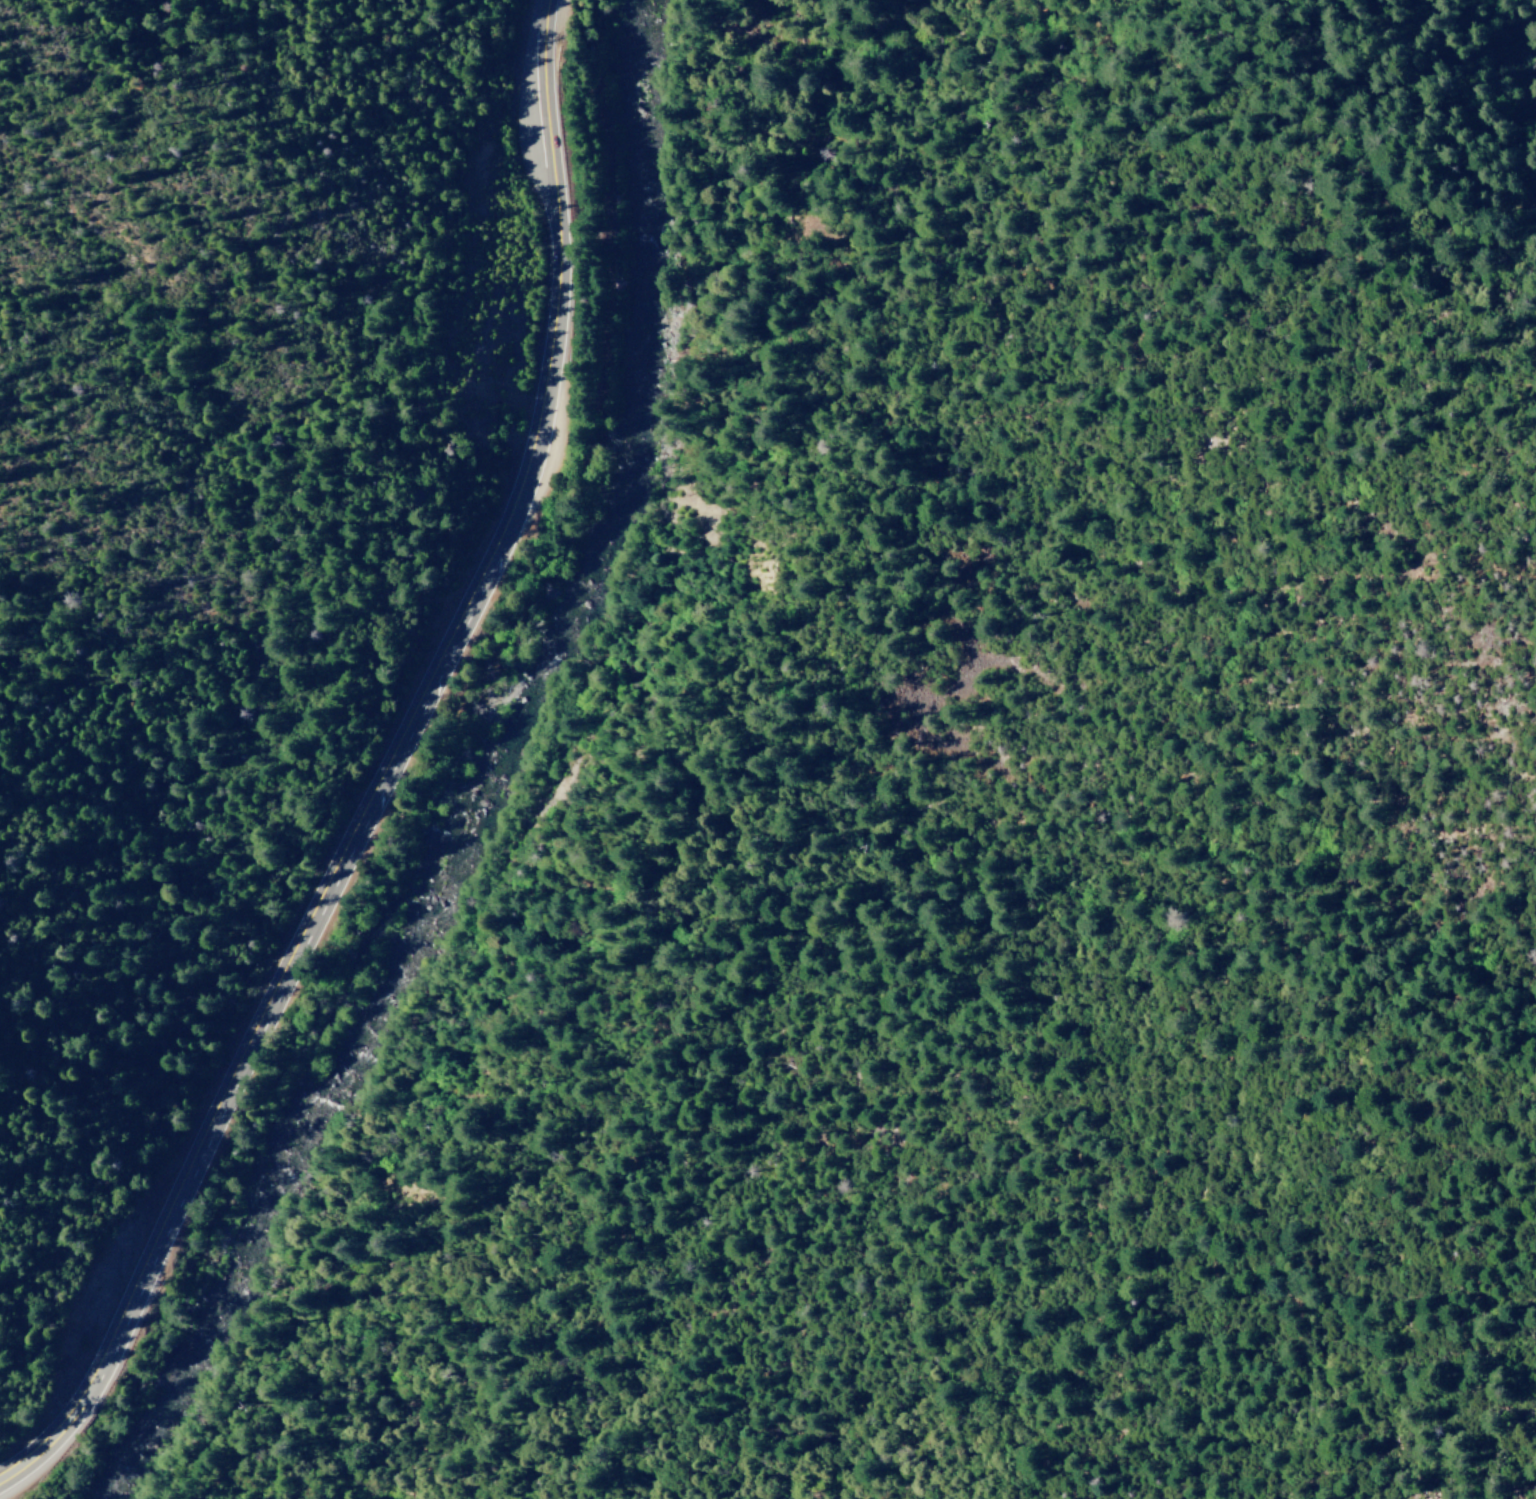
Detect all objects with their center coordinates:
river: (623, 128)
road: (558, 281)
river: (612, 389)
river: (511, 710)
road: (285, 967)
river: (254, 1190)
road: (51, 1440)

